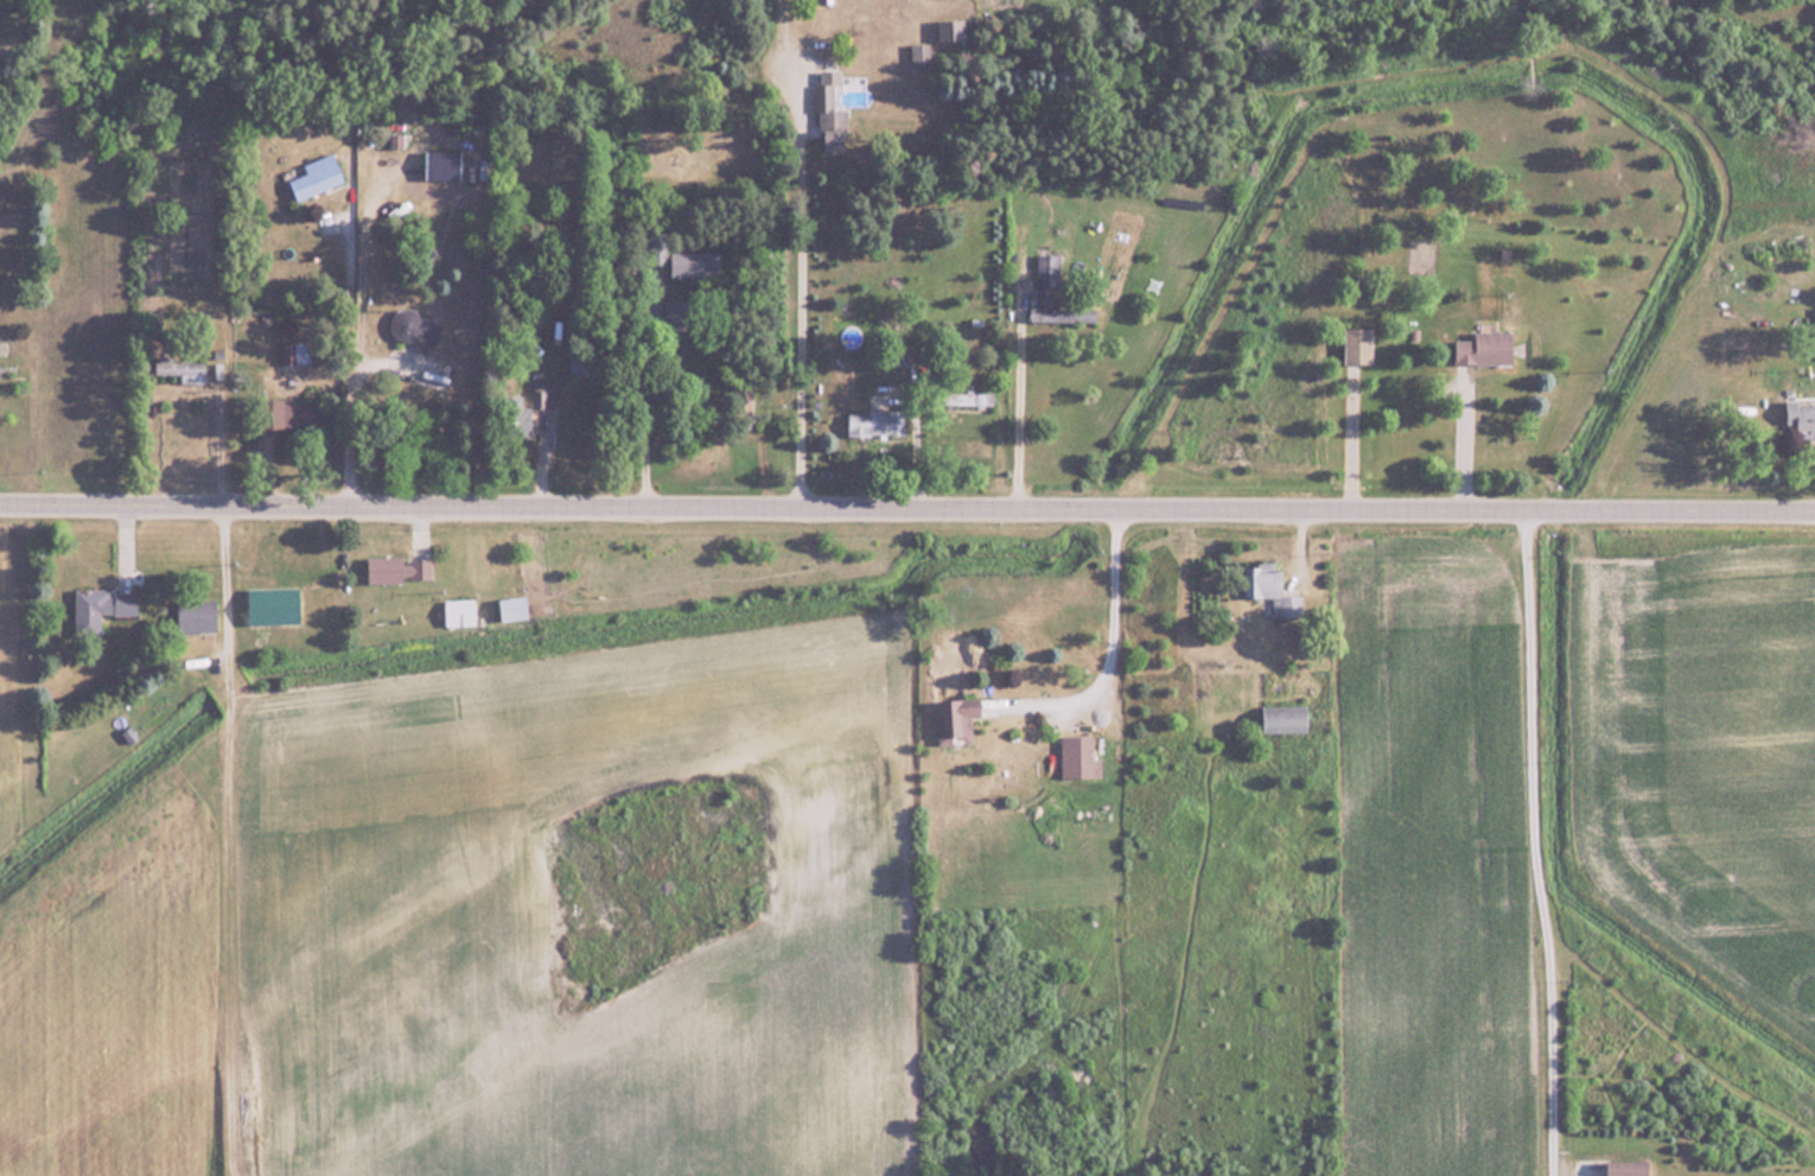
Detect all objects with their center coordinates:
building: (829, 123)
building: (554, 161)
building: (318, 176)
building: (1045, 297)
road: (800, 311)
building: (675, 322)
building: (413, 328)
building: (1359, 344)
building: (1486, 348)
building: (294, 351)
road: (350, 352)
building: (579, 365)
building: (179, 367)
building: (435, 373)
road: (1019, 393)
building: (542, 394)
building: (969, 398)
building: (1800, 414)
building: (875, 421)
road: (1464, 438)
road: (219, 439)
road: (907, 508)
building: (400, 567)
building: (1270, 587)
building: (102, 605)
building: (515, 608)
building: (460, 611)
building: (197, 614)
road: (1113, 616)
building: (1287, 718)
building: (956, 719)
building: (1080, 755)
road: (1535, 843)
building: (1628, 1168)

